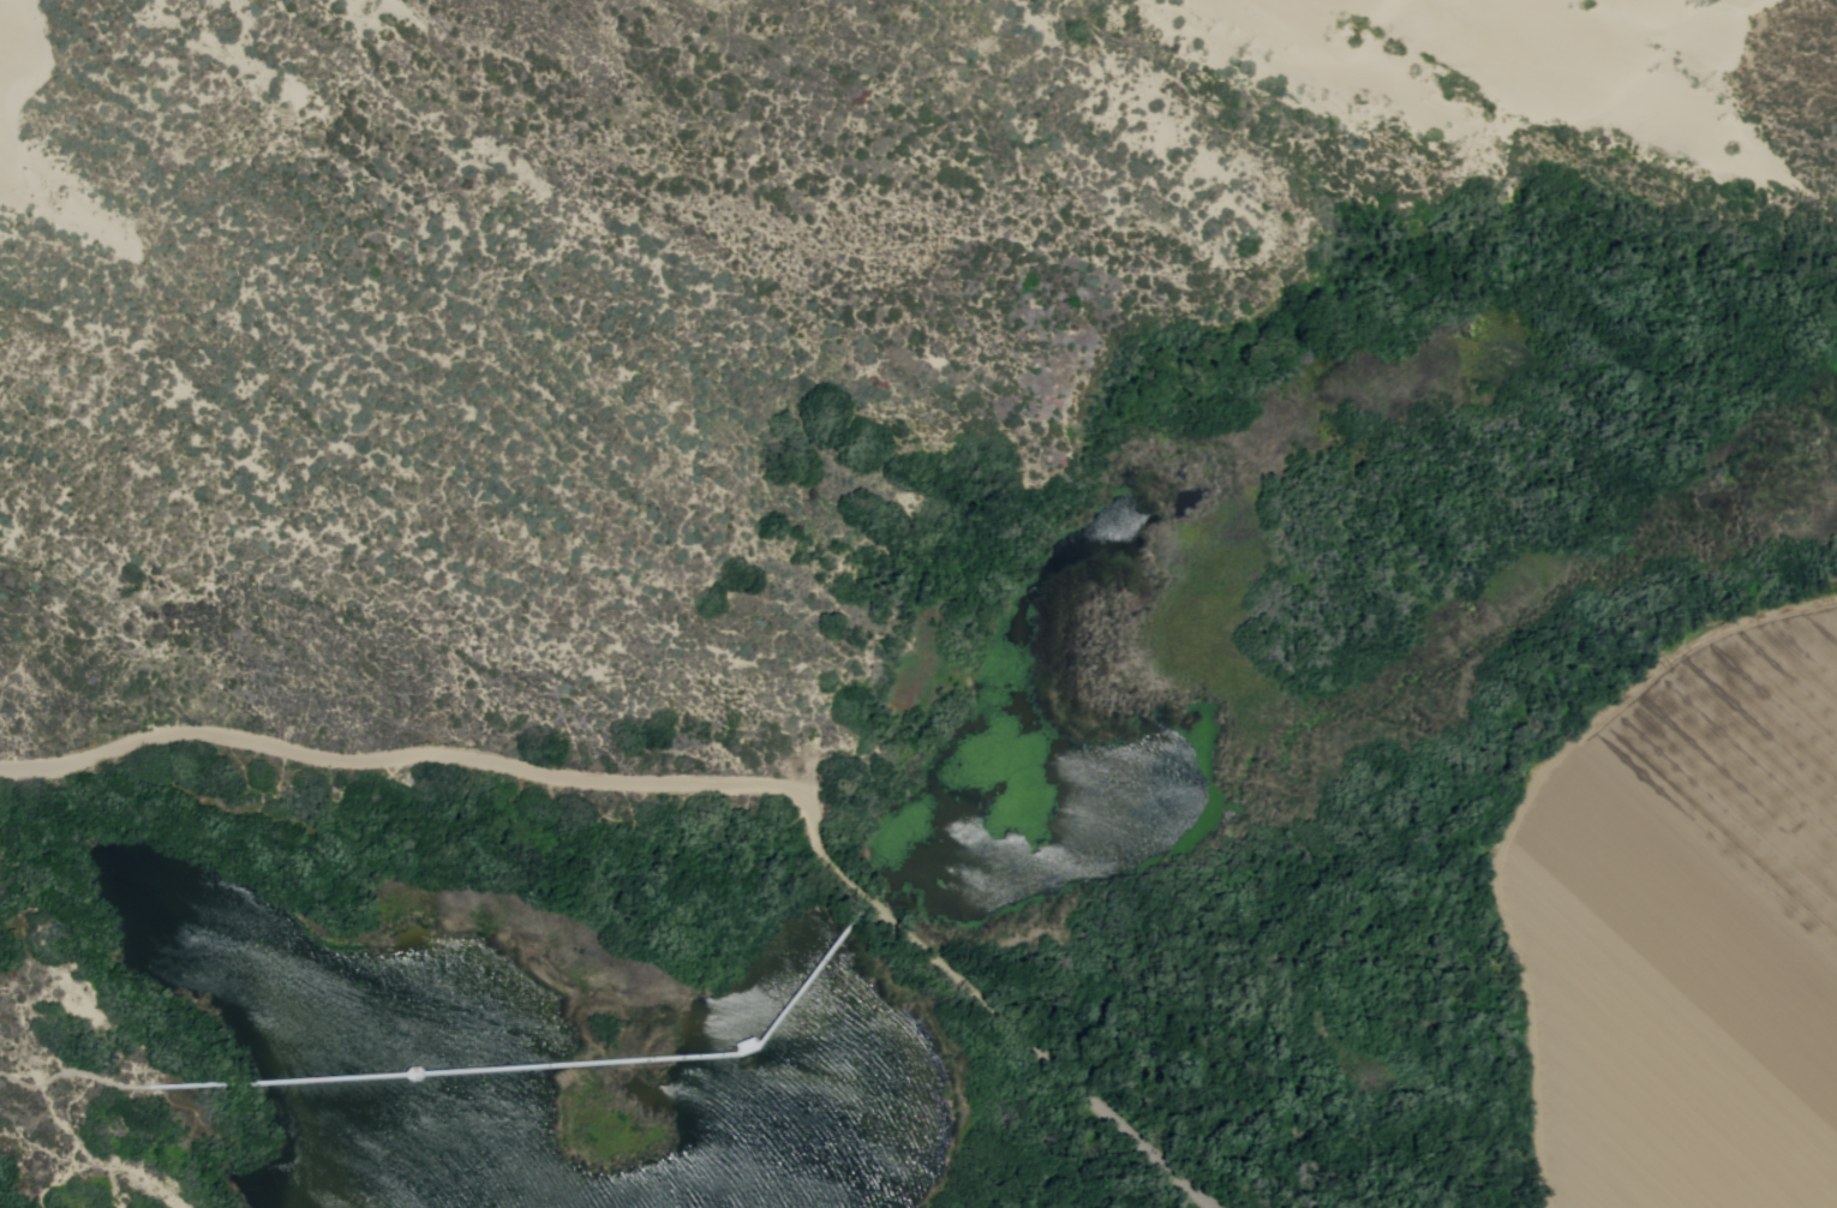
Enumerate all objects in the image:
park: (916, 596)
road: (405, 757)
crop: (1693, 935)
road: (994, 1013)
road: (557, 1068)
road: (83, 1075)

